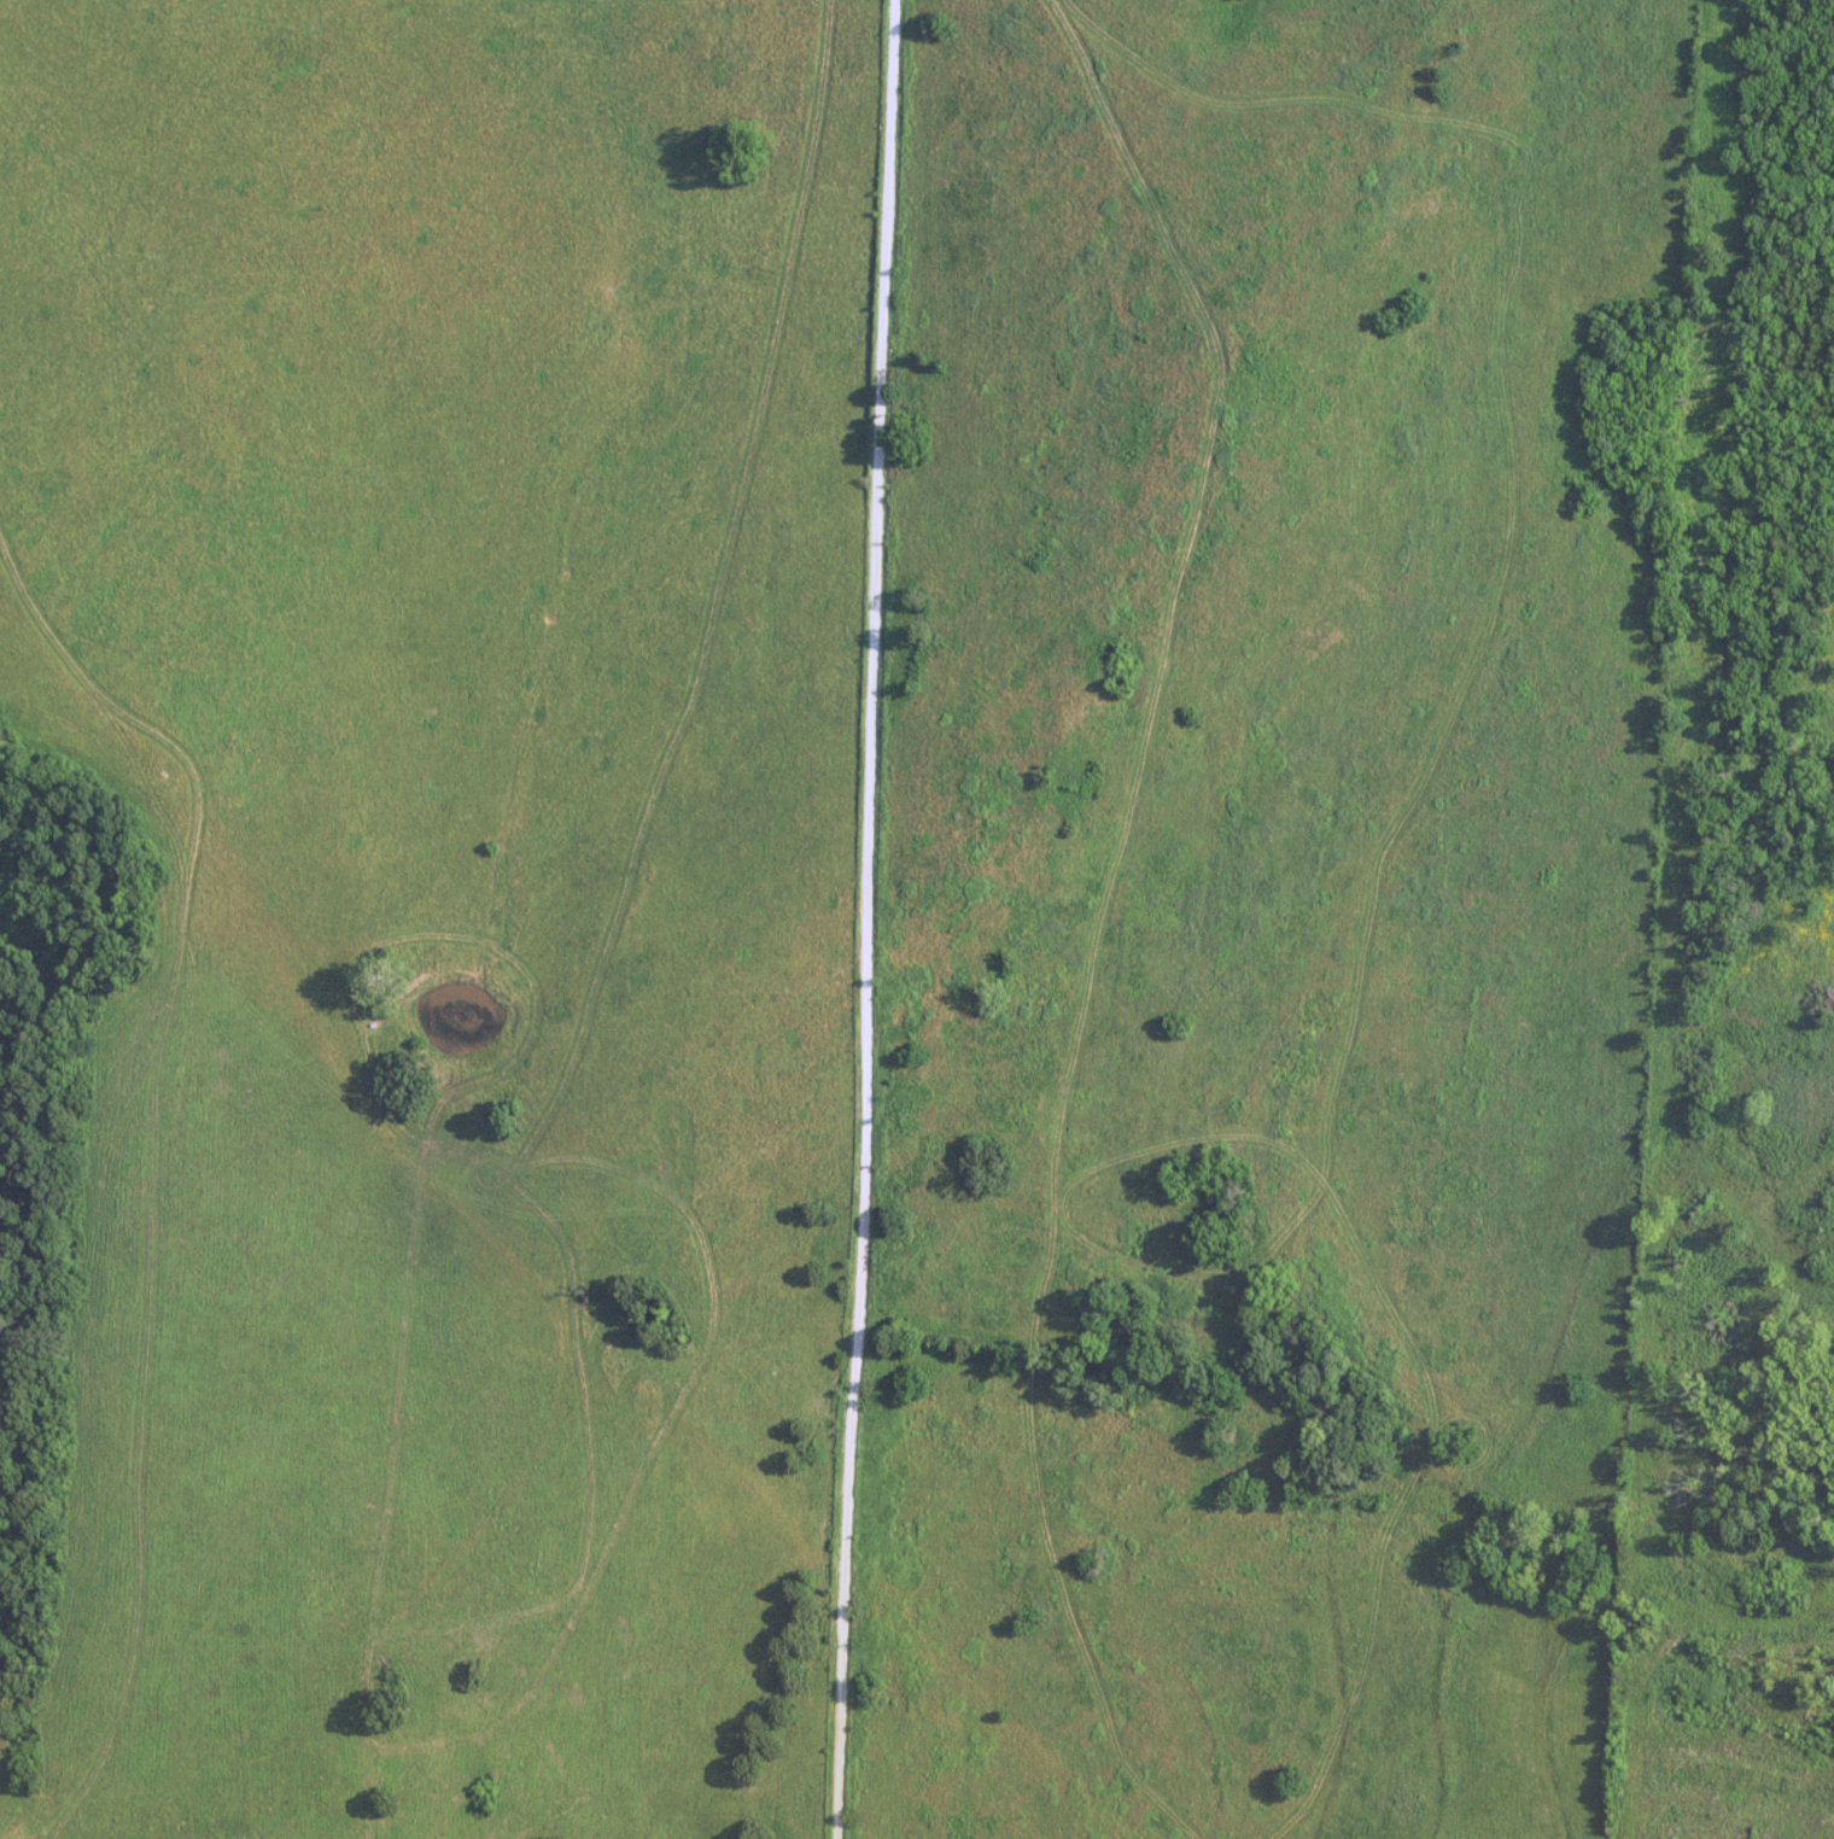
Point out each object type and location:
road: (869, 920)

